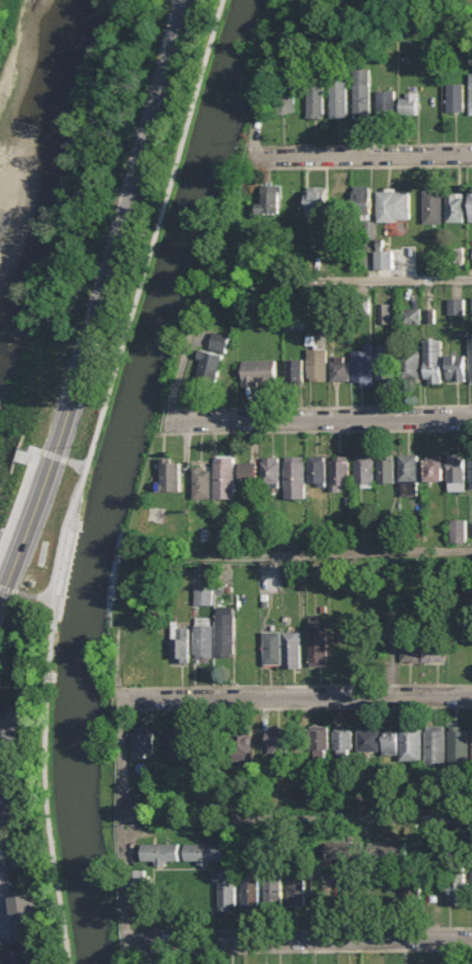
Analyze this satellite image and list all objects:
road: (382, 32)
river: (53, 87)
building: (362, 90)
road: (268, 93)
building: (471, 93)
building: (338, 97)
building: (455, 97)
building: (284, 99)
building: (315, 101)
building: (385, 102)
building: (409, 103)
road: (369, 144)
road: (259, 152)
road: (362, 156)
road: (260, 163)
road: (369, 166)
building: (268, 200)
building: (317, 200)
building: (339, 201)
building: (393, 204)
building: (432, 205)
building: (471, 206)
building: (456, 207)
building: (363, 210)
building: (471, 258)
building: (383, 260)
road: (349, 283)
road: (99, 299)
building: (471, 304)
building: (456, 306)
building: (383, 312)
building: (411, 316)
building: (219, 341)
road: (191, 349)
building: (471, 358)
building: (433, 360)
building: (317, 363)
building: (386, 363)
building: (412, 364)
building: (209, 365)
building: (364, 365)
building: (294, 366)
building: (456, 367)
building: (341, 368)
building: (260, 372)
road: (325, 407)
road: (176, 416)
road: (322, 419)
road: (166, 427)
road: (316, 431)
building: (434, 466)
building: (386, 468)
building: (365, 469)
building: (248, 470)
building: (317, 470)
building: (456, 471)
building: (471, 471)
building: (271, 472)
building: (340, 472)
road: (26, 474)
road: (82, 474)
building: (170, 474)
building: (408, 474)
building: (224, 476)
building: (295, 476)
building: (202, 481)
building: (471, 528)
building: (458, 530)
building: (1, 533)
building: (220, 533)
road: (322, 558)
road: (29, 592)
building: (204, 594)
building: (225, 632)
building: (204, 636)
building: (180, 643)
building: (318, 646)
building: (282, 649)
building: (423, 650)
road: (295, 685)
road: (295, 696)
road: (296, 706)
building: (0, 717)
road: (9, 727)
building: (368, 738)
building: (278, 739)
building: (320, 740)
building: (343, 741)
building: (389, 741)
building: (471, 741)
building: (143, 742)
building: (411, 742)
building: (181, 744)
building: (240, 744)
building: (435, 745)
building: (459, 745)
road: (122, 802)
building: (10, 807)
road: (293, 819)
building: (344, 851)
building: (388, 851)
building: (161, 853)
building: (203, 853)
building: (412, 886)
building: (459, 888)
building: (227, 889)
building: (250, 889)
building: (274, 889)
building: (137, 890)
building: (296, 890)
building: (24, 908)
road: (2, 915)
parking lot: (4, 921)
road: (298, 929)
road: (299, 940)
road: (299, 950)
building: (17, 956)

